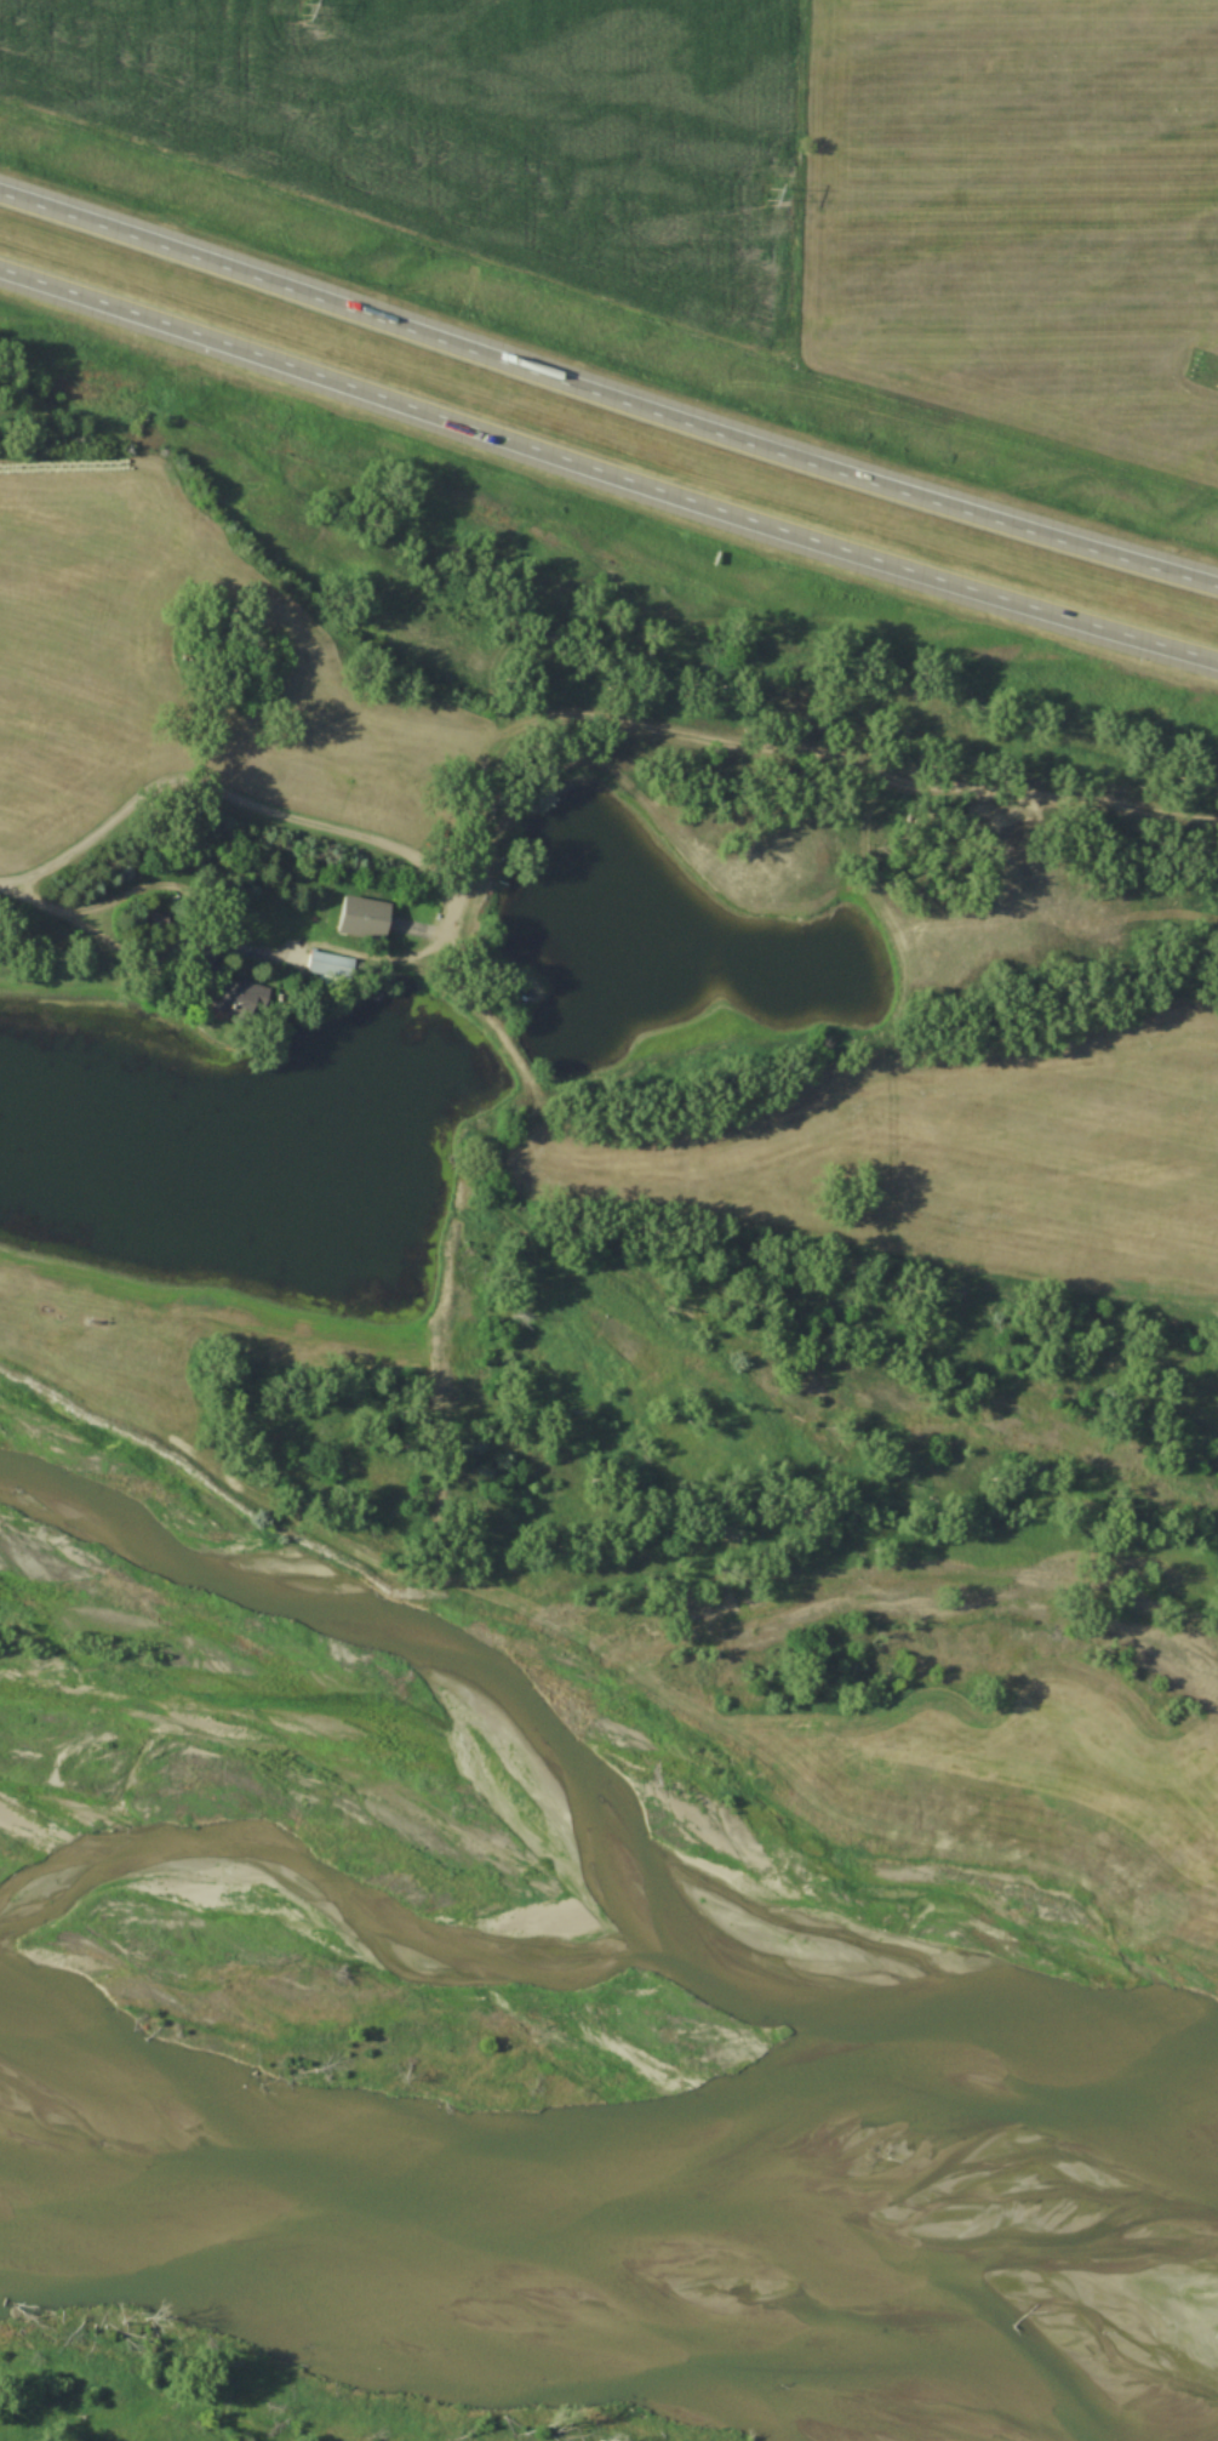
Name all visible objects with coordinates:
power tower: (305, 10)
power tower: (771, 195)
road: (605, 400)
road: (606, 477)
road: (439, 888)
road: (51, 909)
building: (371, 918)
building: (333, 964)
river: (601, 2274)

